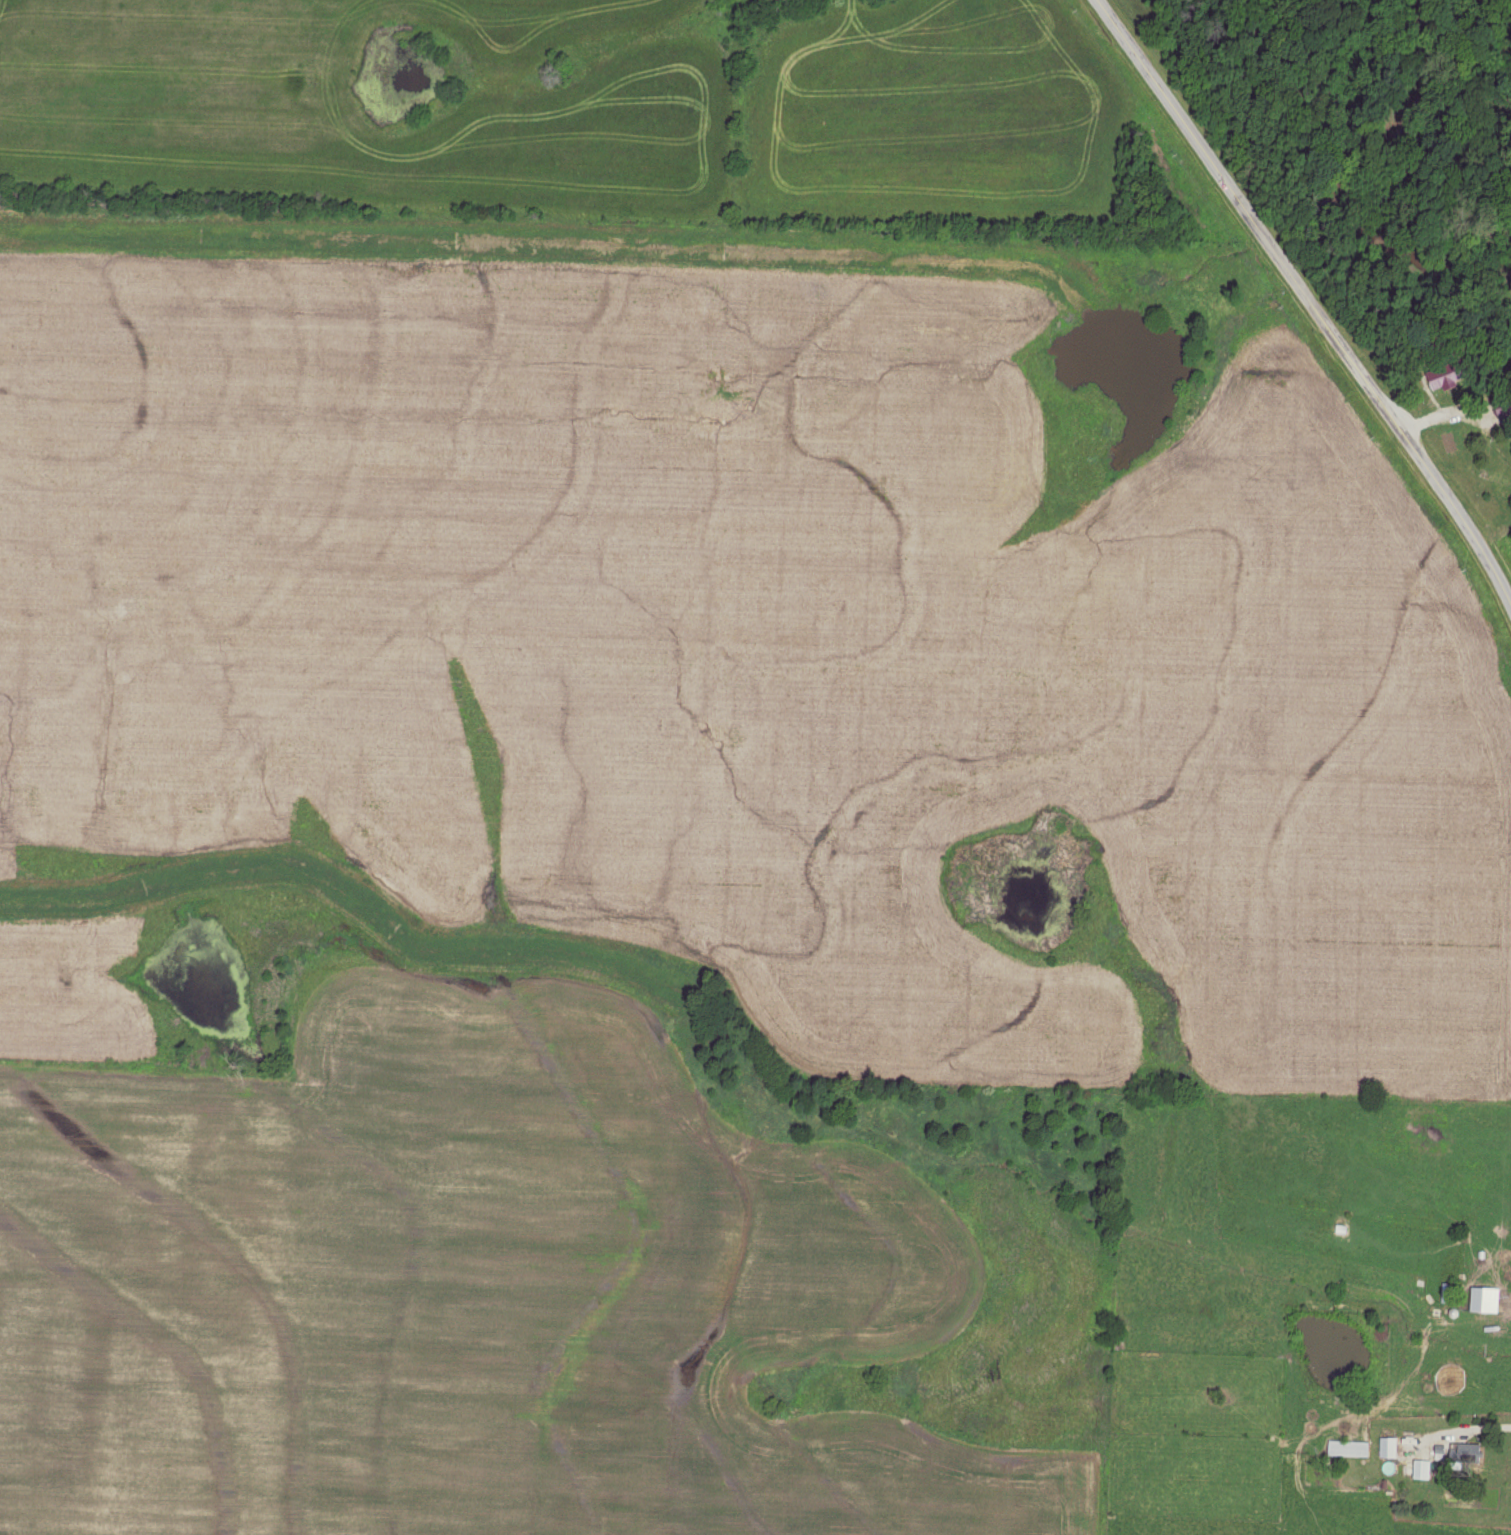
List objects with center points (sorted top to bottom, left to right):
road: (1306, 296)
building: (1436, 342)
building: (1450, 374)
building: (1504, 406)
building: (1484, 1300)
building: (1388, 1446)
building: (1348, 1448)
building: (1466, 1451)
building: (1422, 1468)

